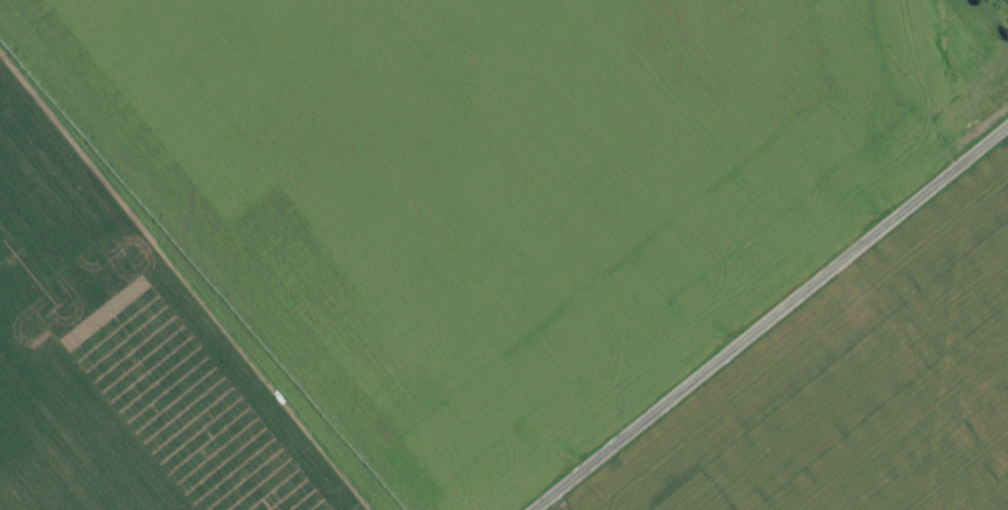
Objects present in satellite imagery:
road: (785, 327)

